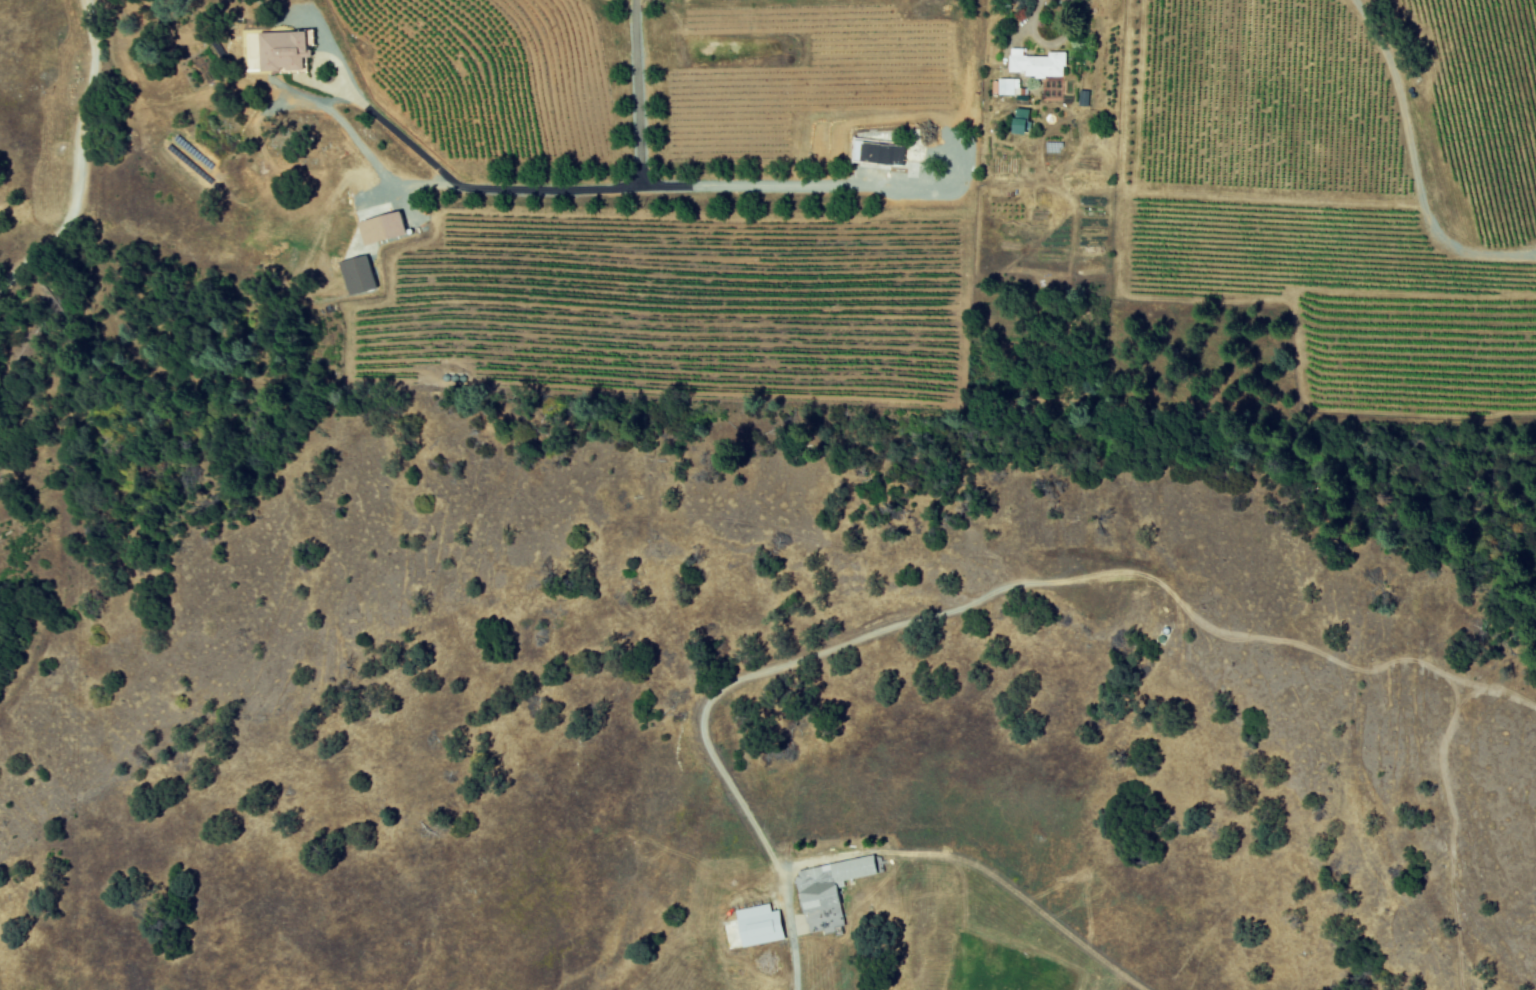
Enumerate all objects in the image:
building: (286, 51)
building: (1039, 64)
building: (1006, 87)
building: (1084, 98)
building: (1024, 121)
road: (82, 159)
road: (1412, 167)
road: (772, 184)
road: (553, 187)
building: (385, 229)
building: (829, 885)
building: (762, 924)
road: (792, 934)

